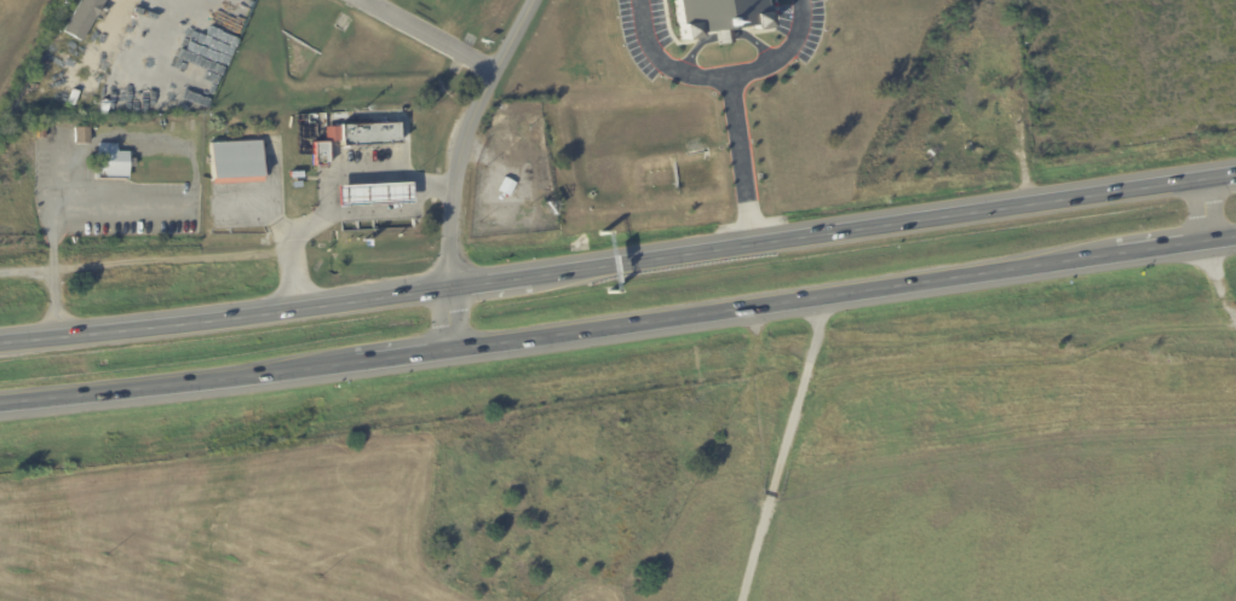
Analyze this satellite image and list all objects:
park: (10, 18)
building: (719, 18)
building: (81, 19)
road: (174, 36)
road: (426, 36)
road: (781, 56)
road: (665, 63)
building: (1007, 111)
building: (370, 135)
building: (82, 138)
building: (424, 150)
building: (516, 151)
building: (321, 154)
building: (541, 162)
building: (236, 163)
building: (110, 164)
road: (458, 167)
road: (740, 168)
road: (355, 173)
building: (542, 175)
road: (432, 181)
building: (542, 189)
building: (370, 195)
road: (268, 206)
road: (117, 212)
road: (1203, 213)
road: (52, 243)
road: (619, 267)
road: (617, 326)
road: (784, 450)

